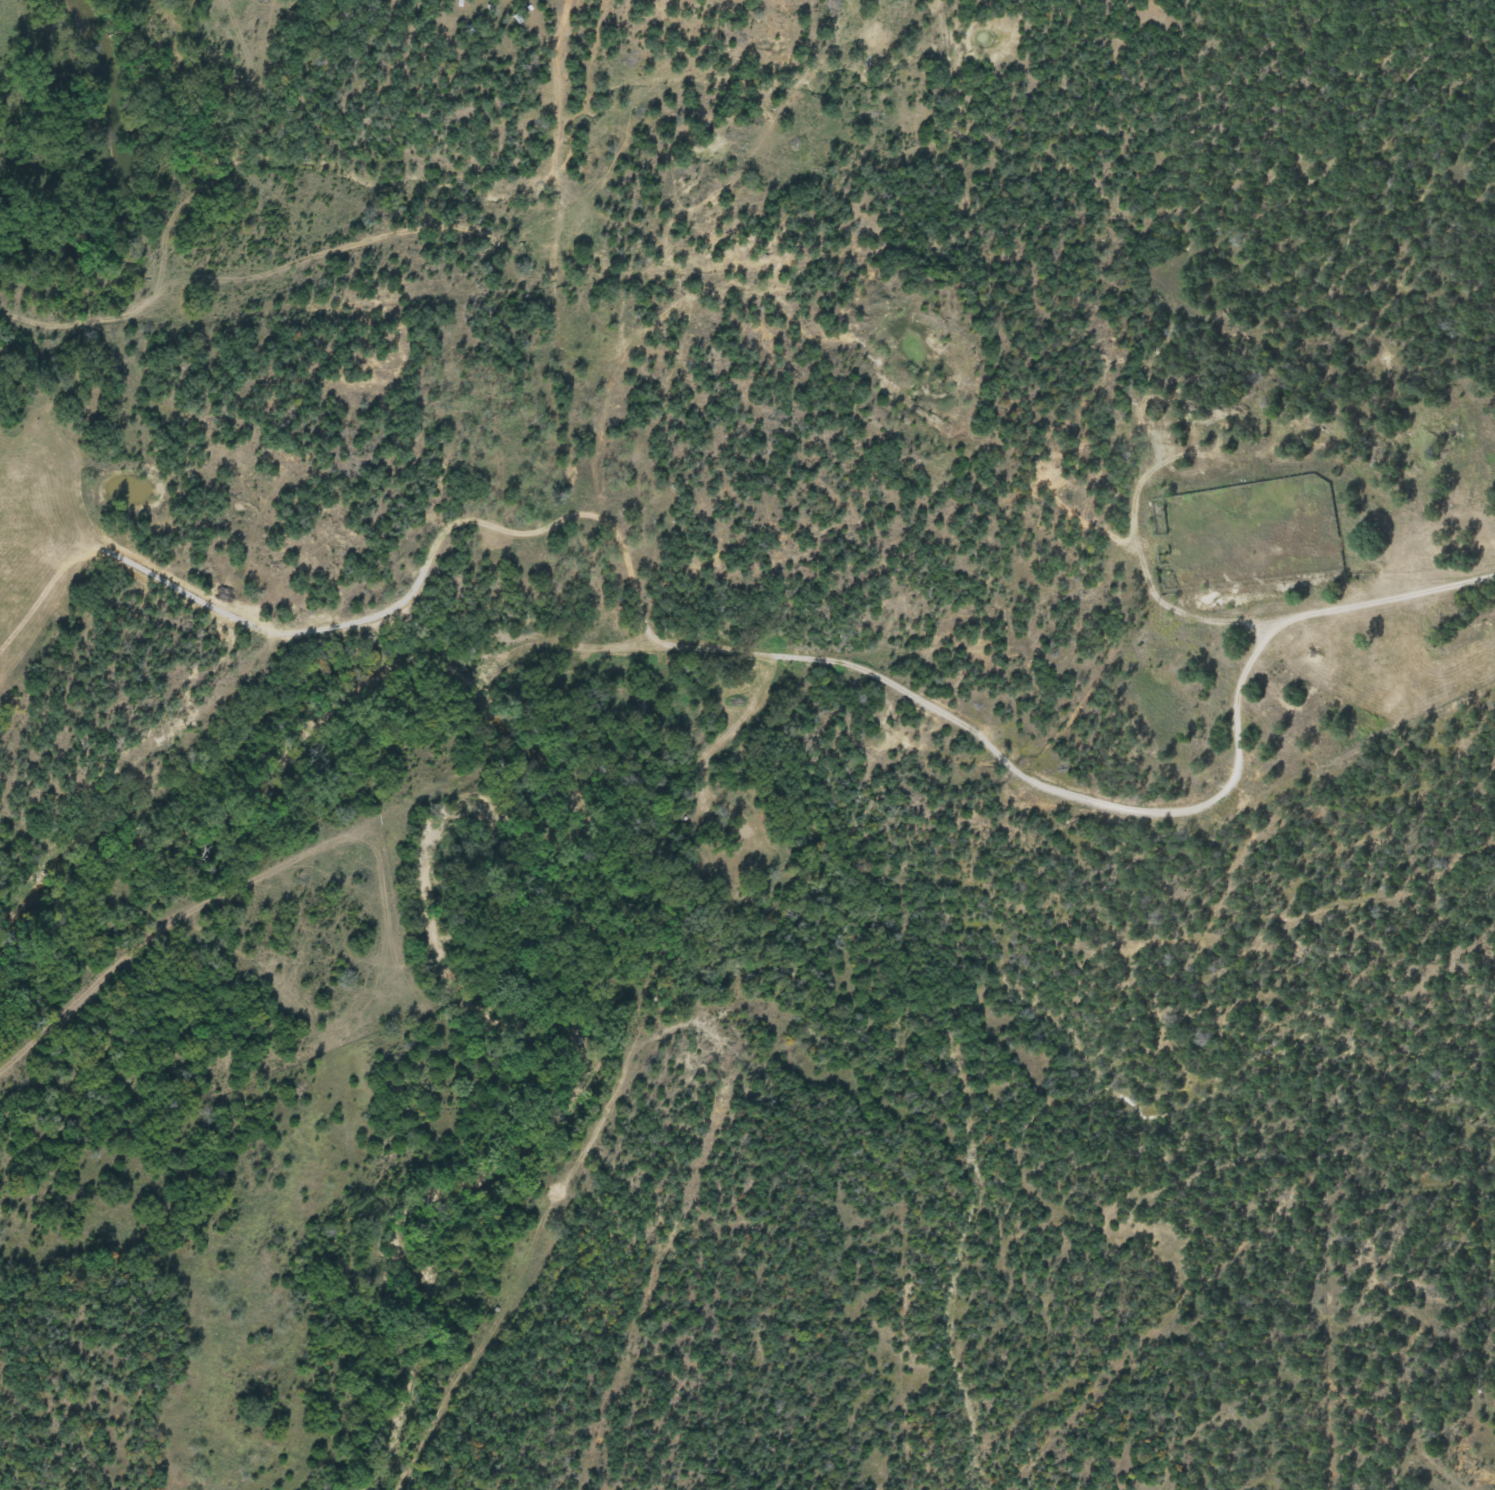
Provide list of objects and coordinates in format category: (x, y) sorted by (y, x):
road: (381, 611)
road: (516, 650)

